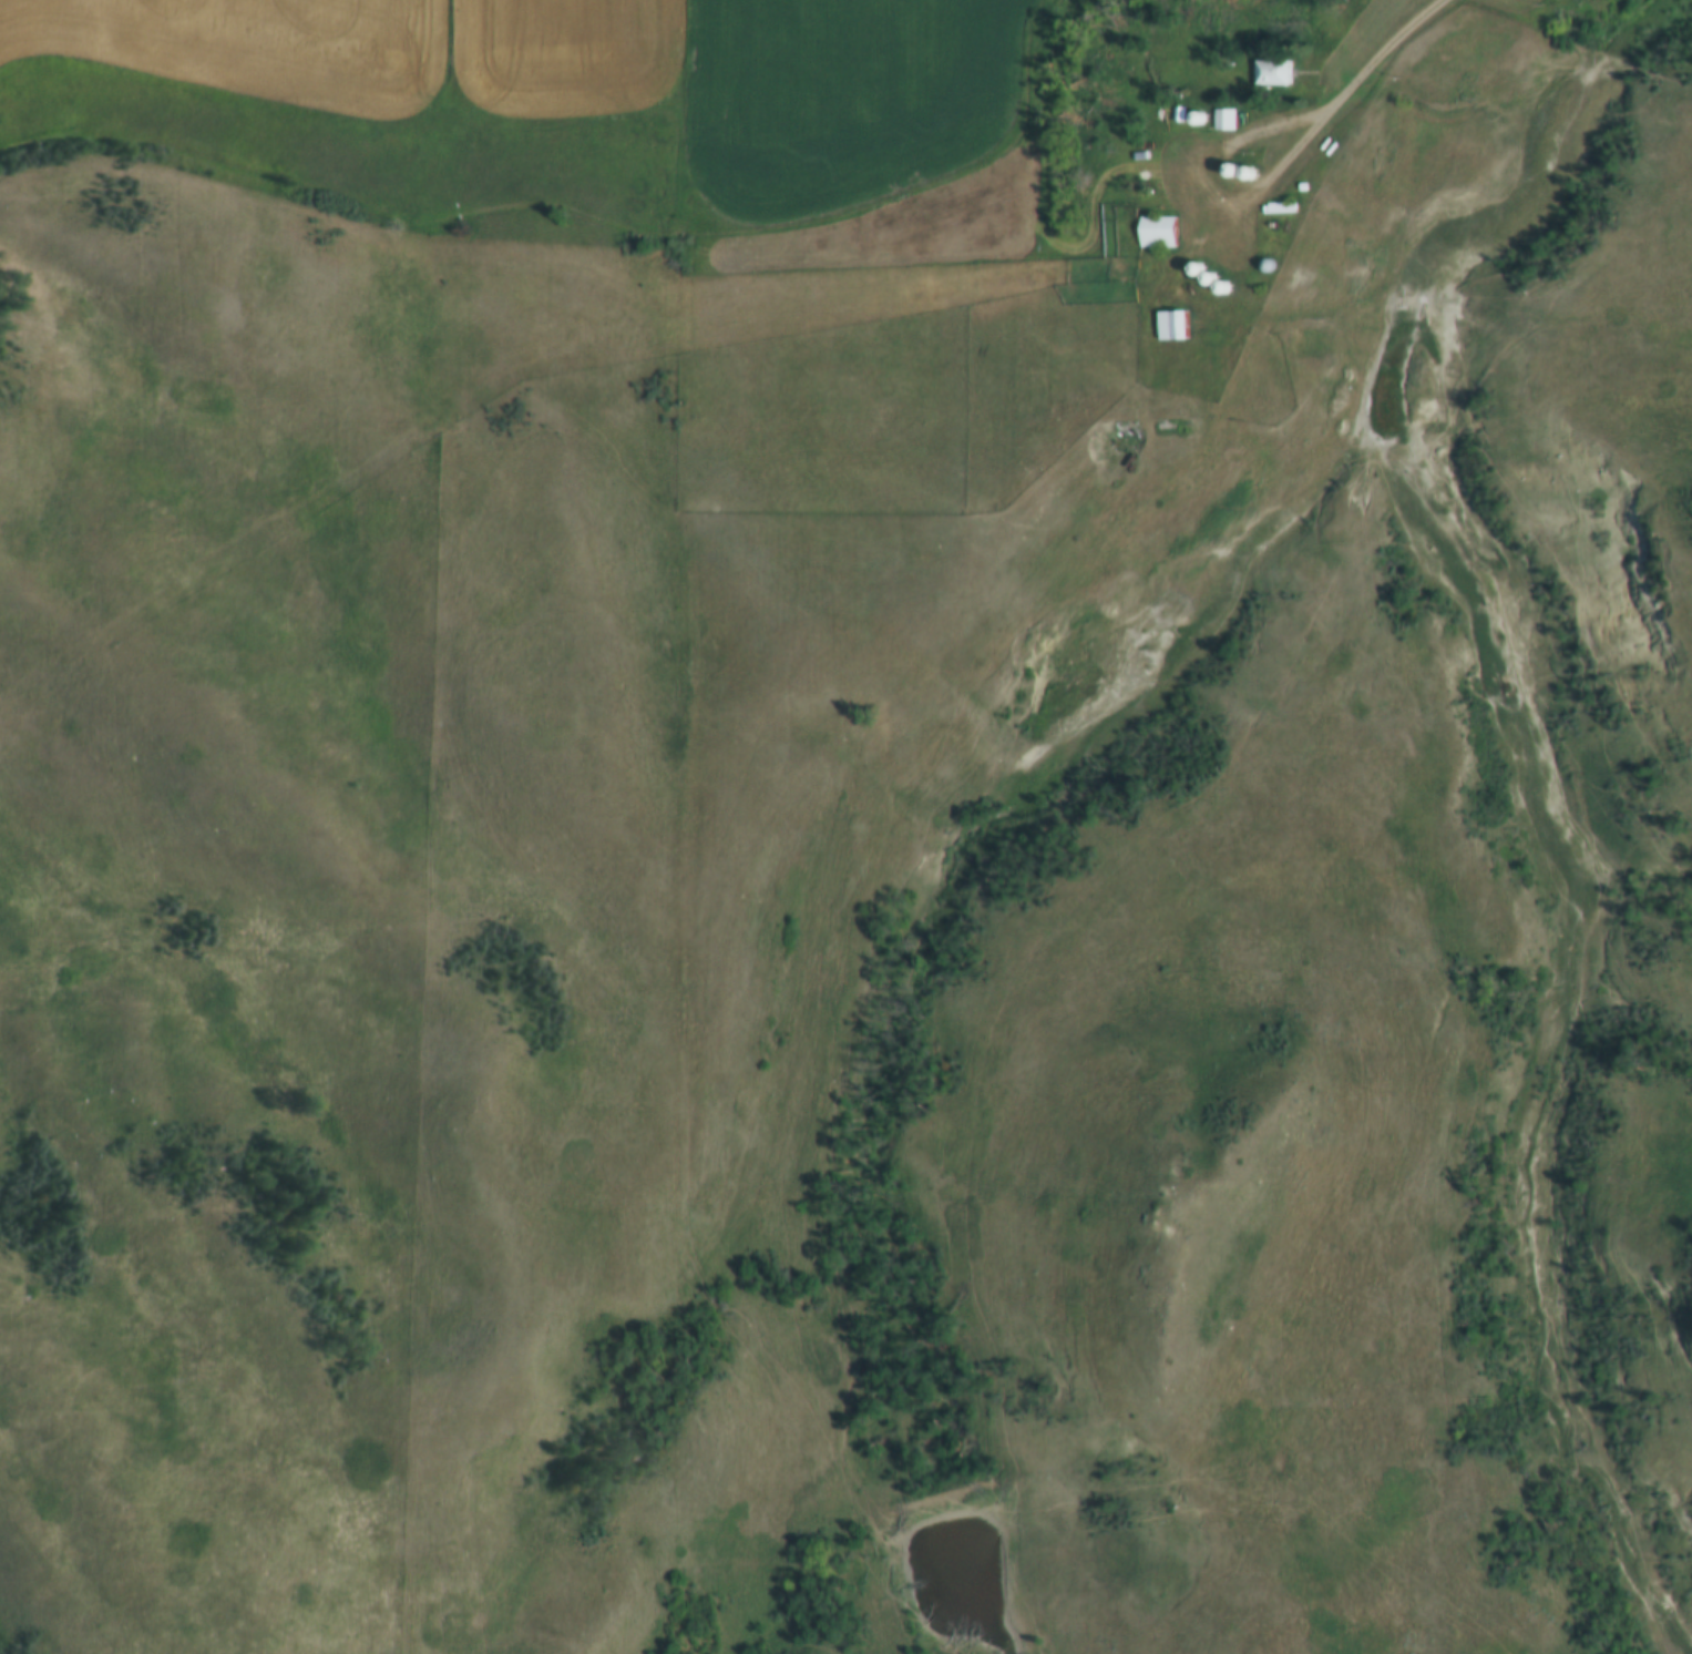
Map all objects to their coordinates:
road: (1382, 52)
building: (1276, 74)
building: (1228, 121)
road: (1231, 173)
building: (1285, 208)
building: (1161, 233)
building: (1177, 326)

